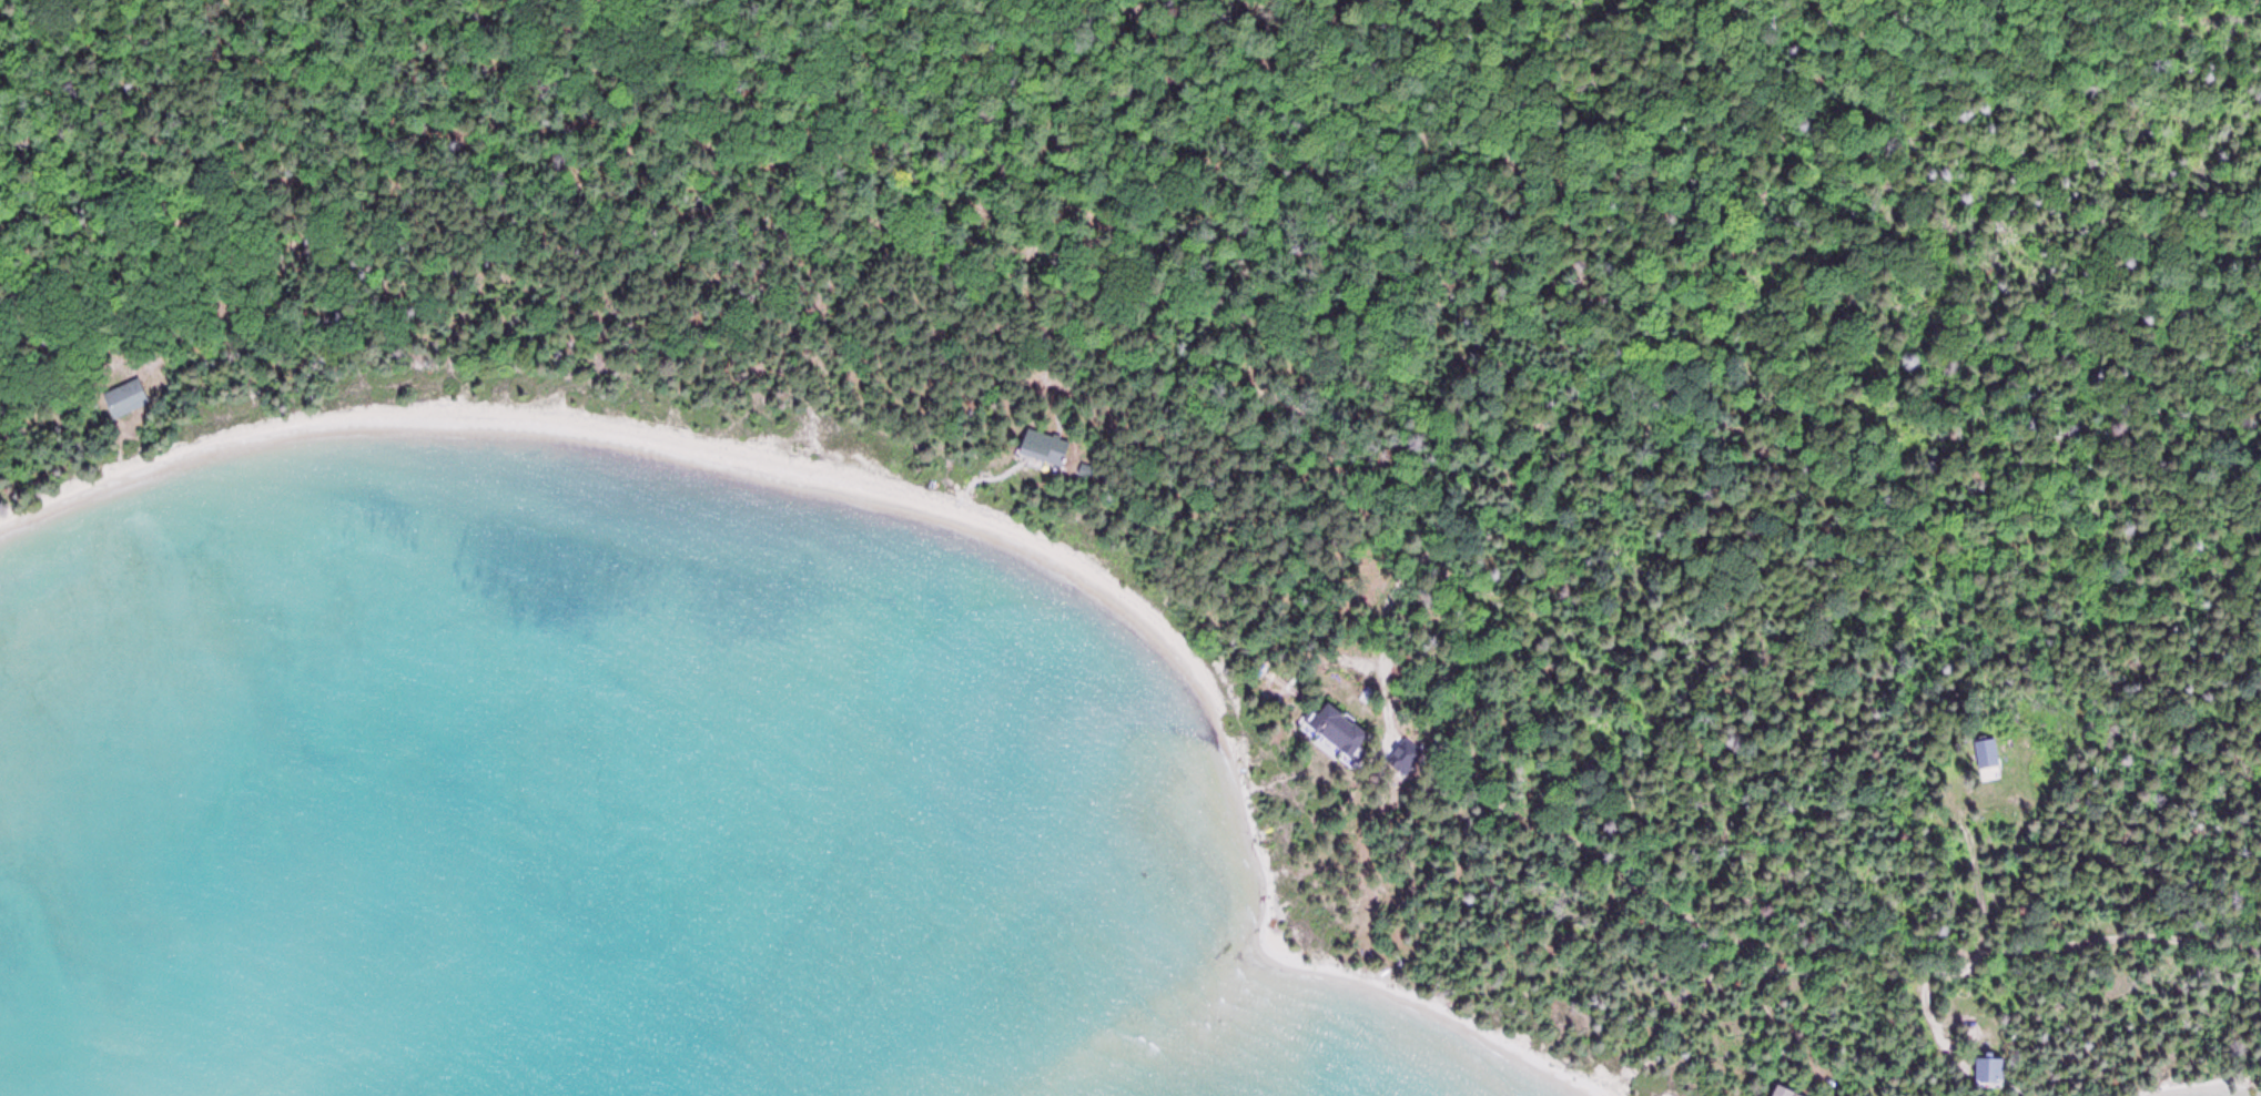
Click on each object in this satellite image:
building: (124, 397)
road: (1107, 417)
building: (1044, 446)
road: (1381, 620)
building: (1337, 727)
building: (1986, 752)
road: (1482, 755)
building: (1989, 1068)
building: (1794, 1094)

